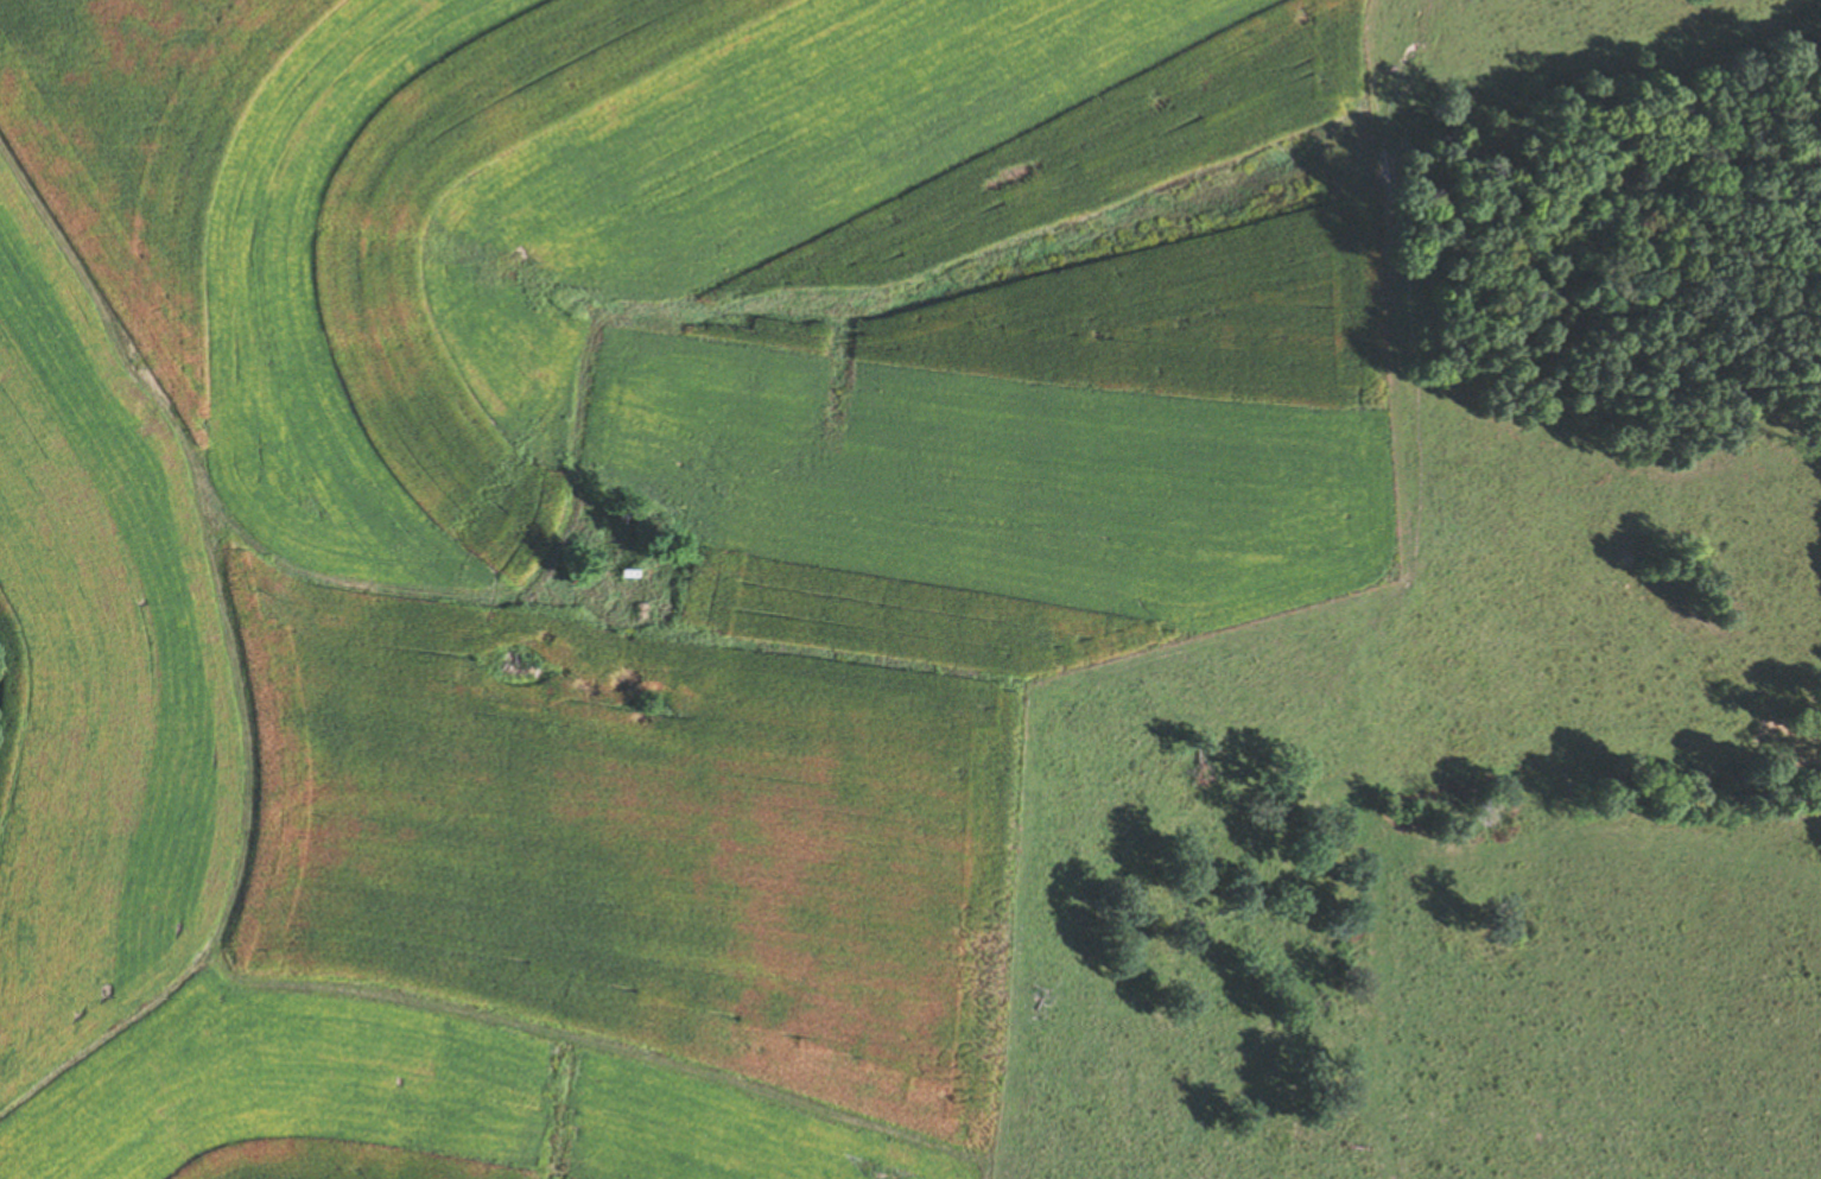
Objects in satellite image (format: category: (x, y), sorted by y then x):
crop: (135, 151)
crop: (665, 218)
crop: (1024, 446)
crop: (99, 684)
crop: (567, 911)

